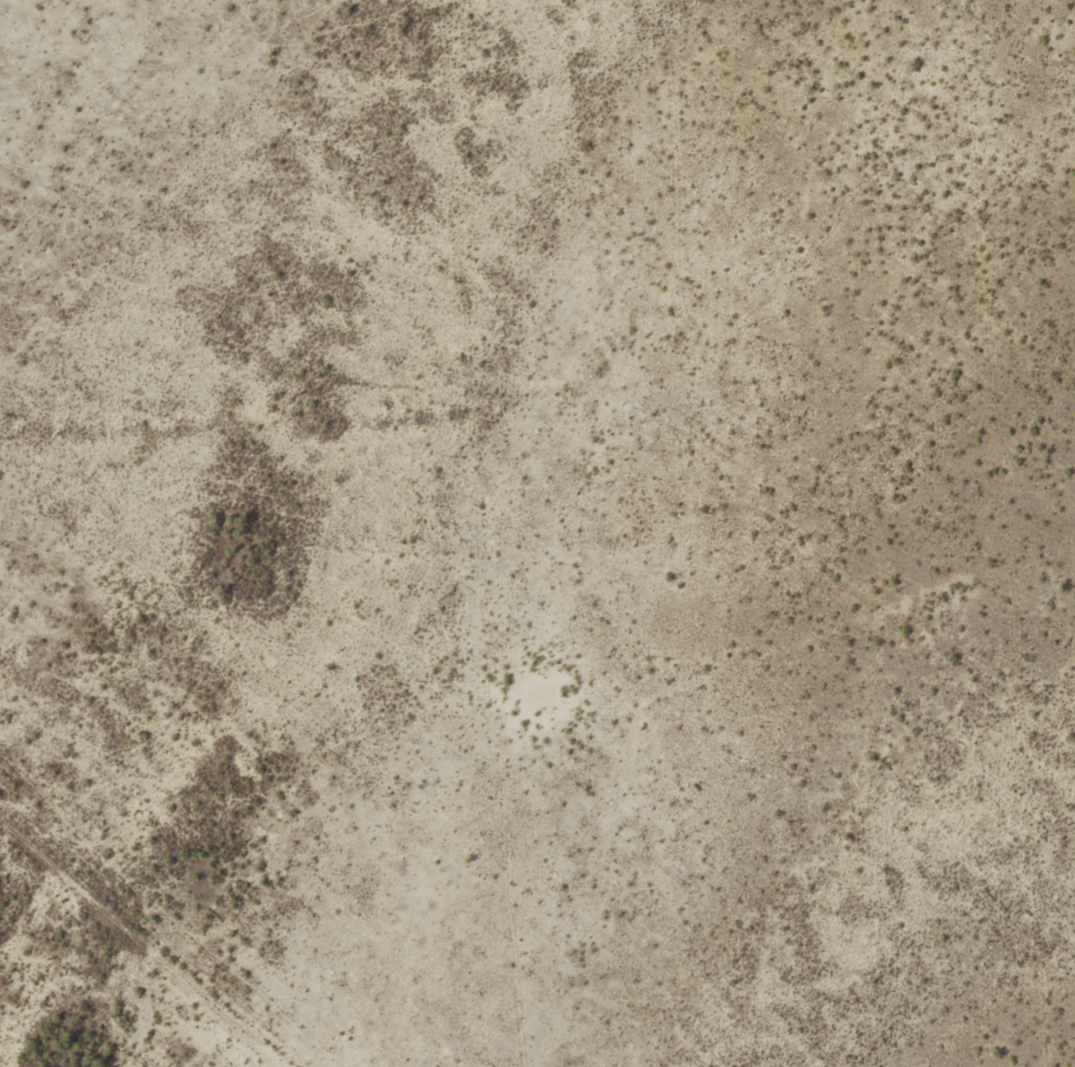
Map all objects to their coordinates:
road: (146, 938)

